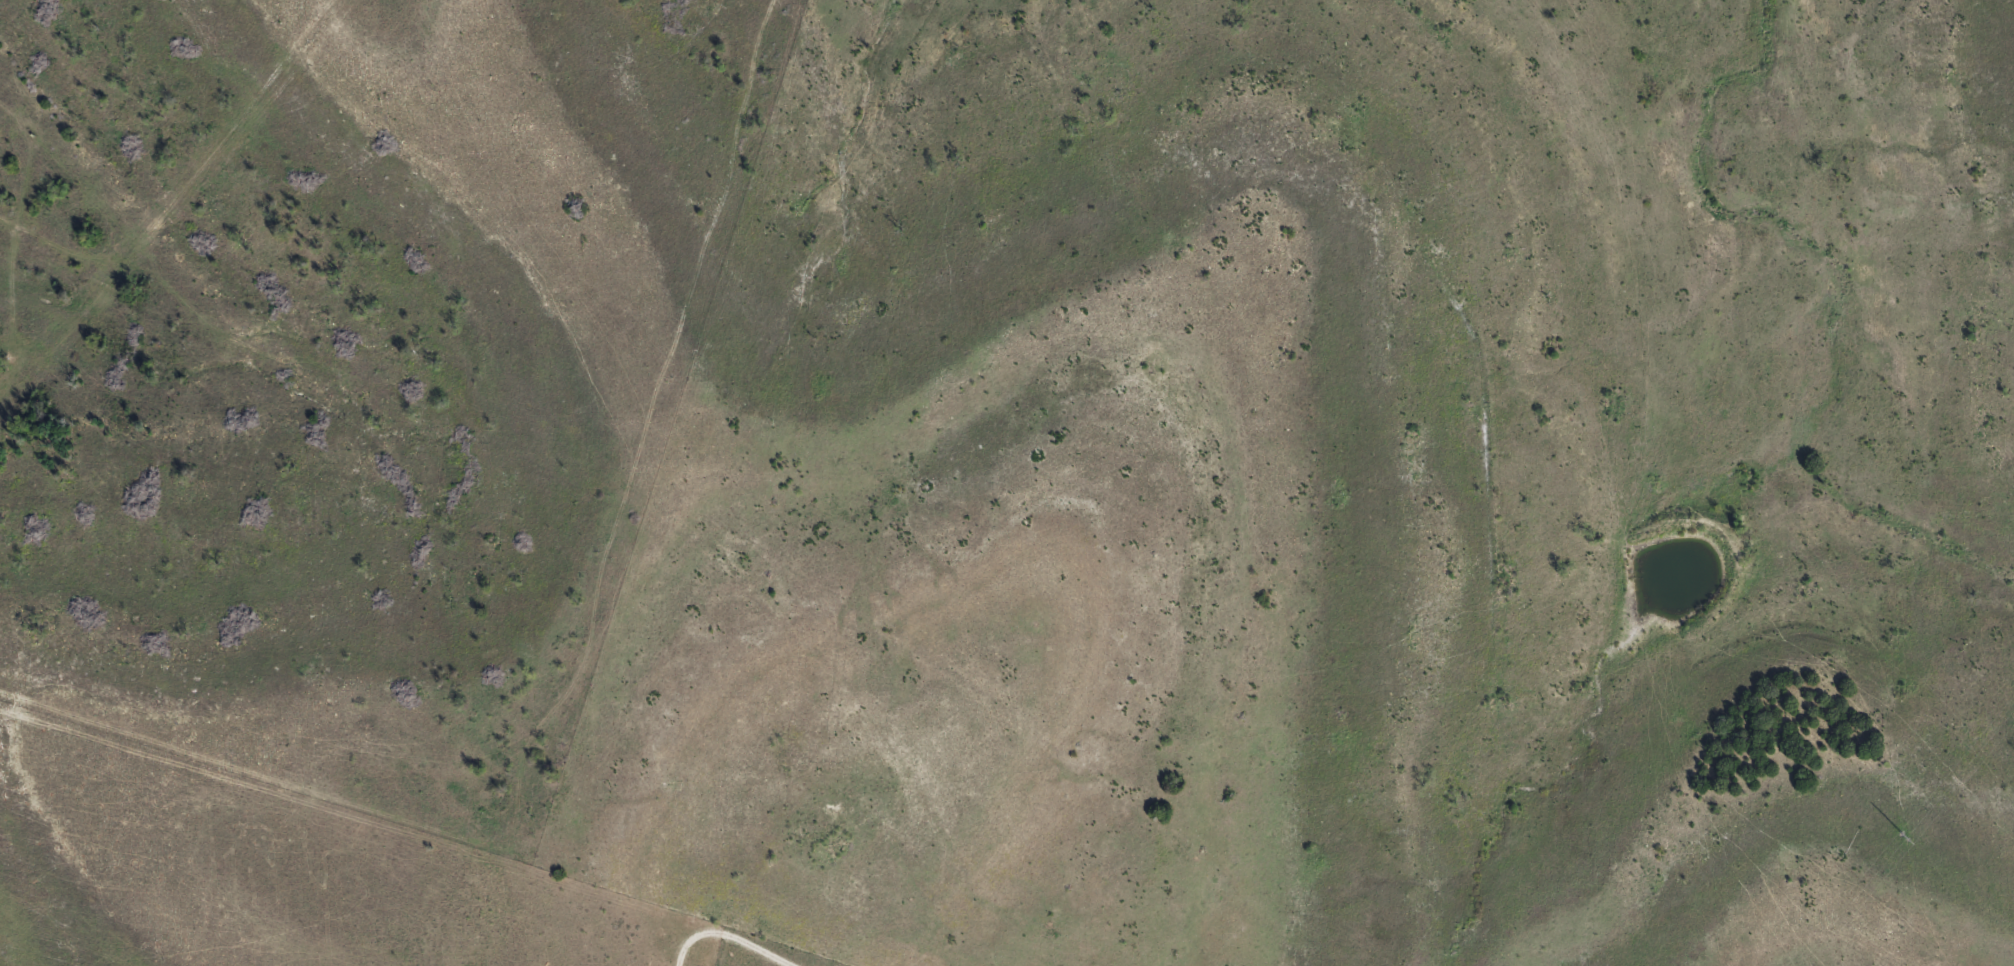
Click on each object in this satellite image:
power tower: (1905, 835)

